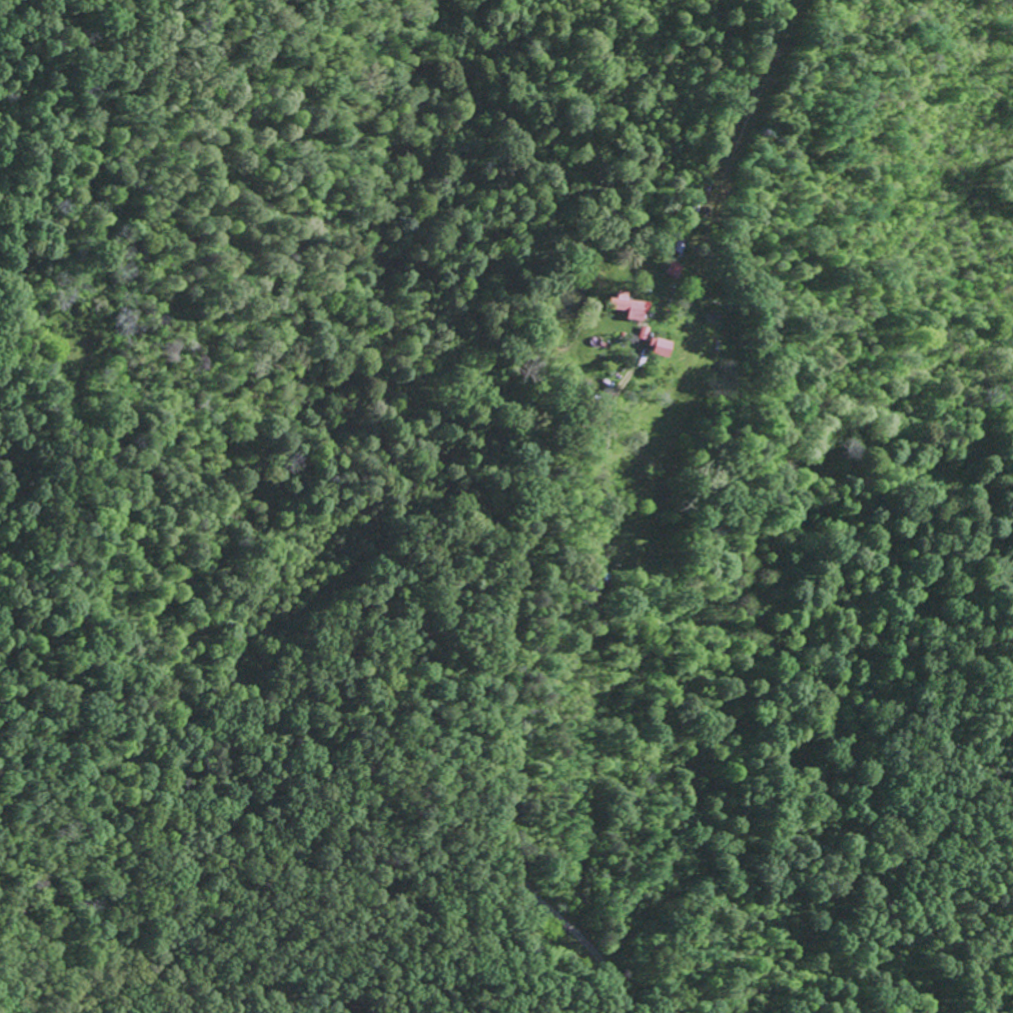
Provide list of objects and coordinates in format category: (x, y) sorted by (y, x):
road: (58, 676)
road: (328, 871)

